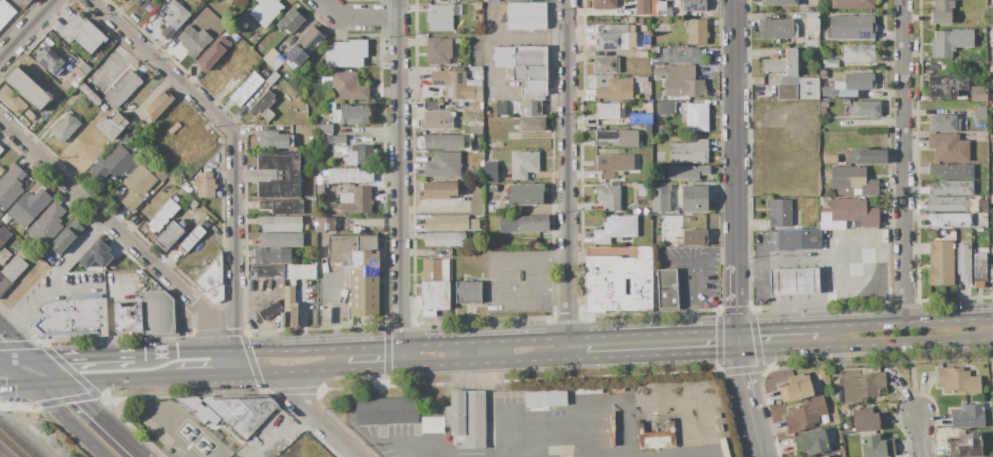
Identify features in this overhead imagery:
building: (115, 0)
building: (486, 0)
building: (27, 1)
building: (228, 2)
building: (777, 2)
building: (603, 4)
building: (852, 4)
building: (477, 6)
building: (692, 6)
building: (642, 7)
building: (659, 7)
building: (652, 8)
building: (266, 11)
building: (665, 11)
building: (941, 12)
building: (5, 13)
building: (526, 16)
building: (441, 17)
building: (174, 18)
road: (359, 19)
building: (636, 20)
building: (290, 21)
building: (811, 22)
building: (851, 28)
building: (777, 29)
road: (29, 31)
building: (696, 32)
building: (82, 34)
road: (513, 37)
building: (620, 39)
building: (193, 41)
building: (457, 41)
building: (950, 42)
building: (811, 45)
road: (486, 46)
building: (302, 49)
building: (437, 52)
building: (858, 53)
building: (212, 54)
building: (345, 54)
building: (642, 54)
building: (503, 56)
building: (530, 56)
building: (679, 56)
building: (992, 56)
building: (49, 61)
building: (276, 62)
road: (115, 63)
building: (781, 64)
building: (830, 64)
building: (605, 65)
building: (990, 69)
building: (475, 70)
building: (232, 71)
building: (529, 73)
building: (75, 76)
building: (272, 79)
building: (326, 80)
building: (679, 81)
building: (856, 82)
building: (456, 85)
building: (945, 86)
building: (348, 87)
building: (534, 88)
building: (26, 89)
building: (123, 89)
building: (246, 89)
building: (615, 89)
building: (798, 89)
building: (977, 90)
building: (835, 93)
building: (647, 97)
building: (977, 97)
building: (12, 101)
building: (845, 102)
building: (159, 104)
building: (823, 105)
building: (330, 106)
building: (431, 106)
building: (262, 107)
building: (530, 108)
building: (665, 108)
building: (865, 109)
building: (609, 111)
building: (822, 112)
building: (979, 113)
building: (29, 115)
building: (351, 115)
building: (697, 118)
building: (640, 119)
building: (436, 120)
building: (943, 123)
building: (532, 125)
building: (111, 126)
building: (65, 127)
building: (174, 128)
building: (324, 129)
building: (647, 129)
building: (660, 129)
road: (734, 132)
building: (617, 138)
building: (990, 138)
building: (126, 140)
building: (274, 140)
building: (452, 140)
building: (340, 142)
road: (236, 145)
building: (948, 147)
building: (1, 150)
building: (335, 150)
building: (689, 152)
building: (359, 155)
building: (866, 156)
road: (905, 161)
building: (116, 162)
building: (524, 164)
building: (443, 165)
building: (613, 165)
building: (1, 171)
building: (950, 171)
building: (489, 172)
building: (686, 173)
building: (292, 176)
building: (349, 176)
road: (566, 180)
building: (852, 182)
road: (403, 184)
building: (205, 185)
building: (10, 186)
building: (136, 186)
building: (186, 188)
building: (492, 188)
building: (951, 188)
building: (320, 189)
building: (439, 190)
building: (642, 190)
building: (525, 195)
building: (608, 196)
building: (693, 199)
building: (660, 201)
building: (358, 202)
building: (193, 205)
building: (947, 205)
building: (28, 207)
building: (282, 207)
building: (643, 211)
building: (674, 211)
building: (852, 212)
building: (779, 213)
building: (163, 214)
building: (655, 217)
building: (950, 220)
building: (280, 224)
building: (447, 224)
building: (474, 224)
building: (523, 224)
building: (47, 225)
building: (325, 225)
building: (305, 227)
building: (615, 229)
road: (120, 230)
building: (355, 230)
building: (169, 234)
building: (66, 236)
building: (5, 237)
building: (694, 238)
building: (190, 239)
building: (798, 239)
building: (280, 240)
building: (444, 240)
building: (3, 255)
building: (95, 256)
building: (271, 256)
road: (673, 261)
building: (963, 262)
building: (941, 263)
building: (14, 267)
building: (991, 268)
building: (358, 270)
building: (434, 270)
building: (979, 270)
building: (281, 272)
road: (57, 275)
road: (503, 275)
road: (689, 275)
building: (211, 281)
building: (794, 282)
building: (3, 284)
building: (616, 284)
building: (666, 288)
building: (467, 292)
parking lot: (333, 295)
building: (433, 297)
road: (738, 298)
building: (289, 308)
building: (270, 310)
building: (156, 312)
road: (332, 314)
road: (223, 317)
building: (73, 318)
building: (128, 318)
road: (905, 323)
road: (4, 328)
road: (779, 329)
traffic signals: (742, 331)
road: (743, 342)
road: (438, 343)
road: (23, 345)
road: (868, 348)
traffic signals: (744, 354)
road: (85, 355)
road: (664, 357)
road: (1, 359)
traffic signals: (38, 359)
road: (20, 360)
road: (1, 361)
traffic signals: (3, 361)
road: (229, 364)
road: (495, 364)
road: (372, 369)
road: (51, 371)
road: (284, 372)
road: (15, 373)
road: (202, 377)
road: (120, 381)
building: (958, 381)
road: (749, 382)
traffic signals: (65, 384)
road: (46, 385)
road: (14, 386)
traffic signals: (28, 386)
building: (698, 386)
building: (862, 387)
building: (800, 388)
building: (617, 390)
building: (588, 391)
building: (837, 395)
building: (545, 398)
building: (843, 407)
building: (198, 410)
building: (386, 412)
building: (167, 413)
building: (241, 413)
building: (805, 415)
building: (159, 416)
building: (970, 417)
building: (466, 418)
building: (173, 419)
building: (868, 419)
road: (104, 420)
road: (319, 420)
road: (66, 421)
building: (167, 423)
building: (432, 425)
building: (719, 429)
road: (505, 430)
road: (286, 433)
road: (762, 433)
road: (920, 435)
building: (608, 436)
building: (655, 438)
railway: (18, 439)
building: (810, 442)
building: (723, 443)
railway: (10, 446)
building: (876, 446)
building: (966, 446)
road: (397, 451)
railway: (5, 452)
building: (824, 456)

